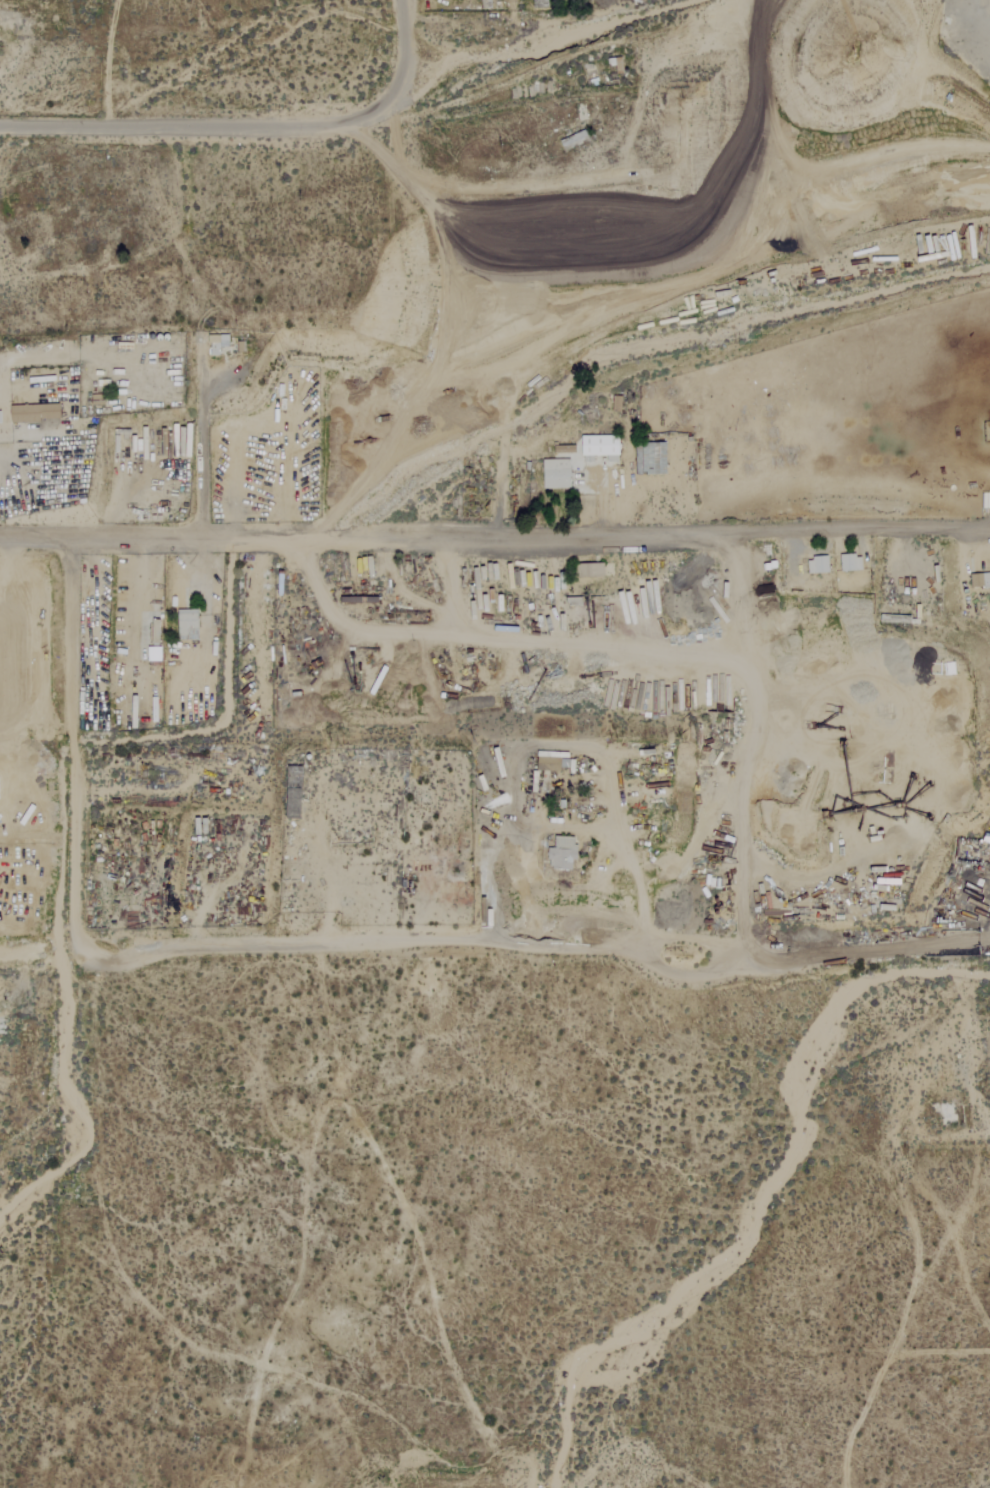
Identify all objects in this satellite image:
road: (248, 125)
building: (576, 141)
road: (31, 359)
building: (36, 413)
building: (601, 447)
road: (495, 533)
building: (852, 562)
building: (818, 565)
building: (593, 569)
building: (981, 579)
building: (188, 626)
road: (750, 736)
road: (71, 738)
building: (554, 763)
building: (295, 792)
road: (560, 825)
road: (692, 841)
building: (563, 853)
road: (494, 942)

